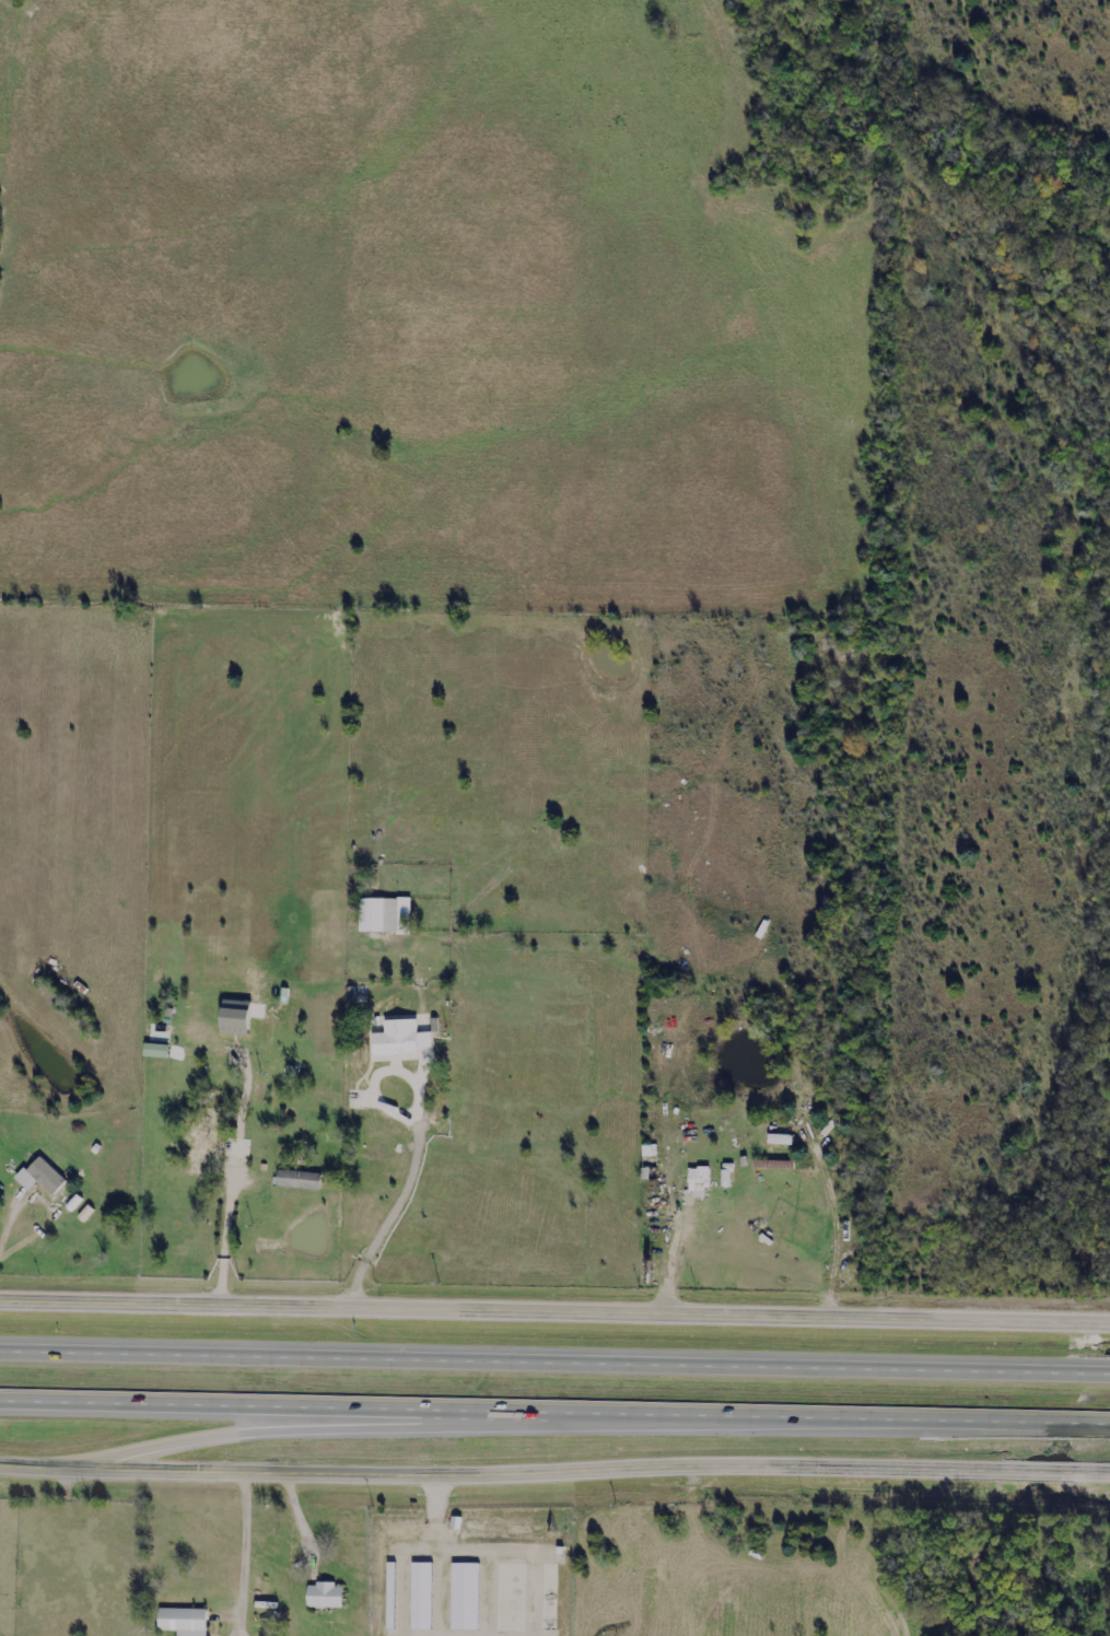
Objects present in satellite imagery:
building: (382, 918)
building: (241, 1019)
building: (397, 1040)
building: (175, 1051)
building: (257, 1095)
building: (776, 1142)
building: (234, 1148)
building: (199, 1154)
building: (646, 1154)
building: (38, 1179)
building: (296, 1181)
building: (697, 1181)
road: (401, 1192)
road: (46, 1205)
road: (673, 1232)
road: (224, 1241)
road: (554, 1305)
road: (554, 1363)
road: (554, 1414)
road: (284, 1430)
road: (554, 1473)
road: (243, 1555)
building: (425, 1596)
building: (322, 1597)
building: (180, 1622)

